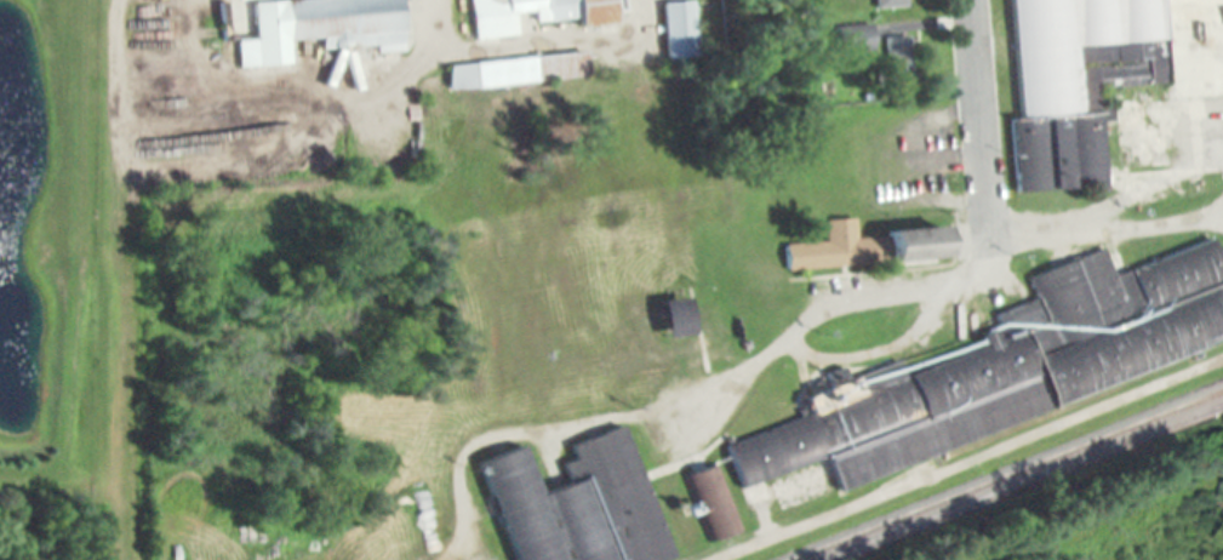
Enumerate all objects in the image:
building: (887, 2)
building: (536, 15)
building: (319, 27)
building: (678, 29)
building: (856, 38)
building: (899, 59)
building: (513, 70)
building: (1105, 82)
road: (975, 137)
building: (865, 246)
road: (118, 280)
road: (944, 281)
building: (674, 316)
building: (1008, 365)
railway: (1008, 475)
railway: (1024, 481)
building: (713, 502)
building: (578, 504)
road: (1222, 559)

